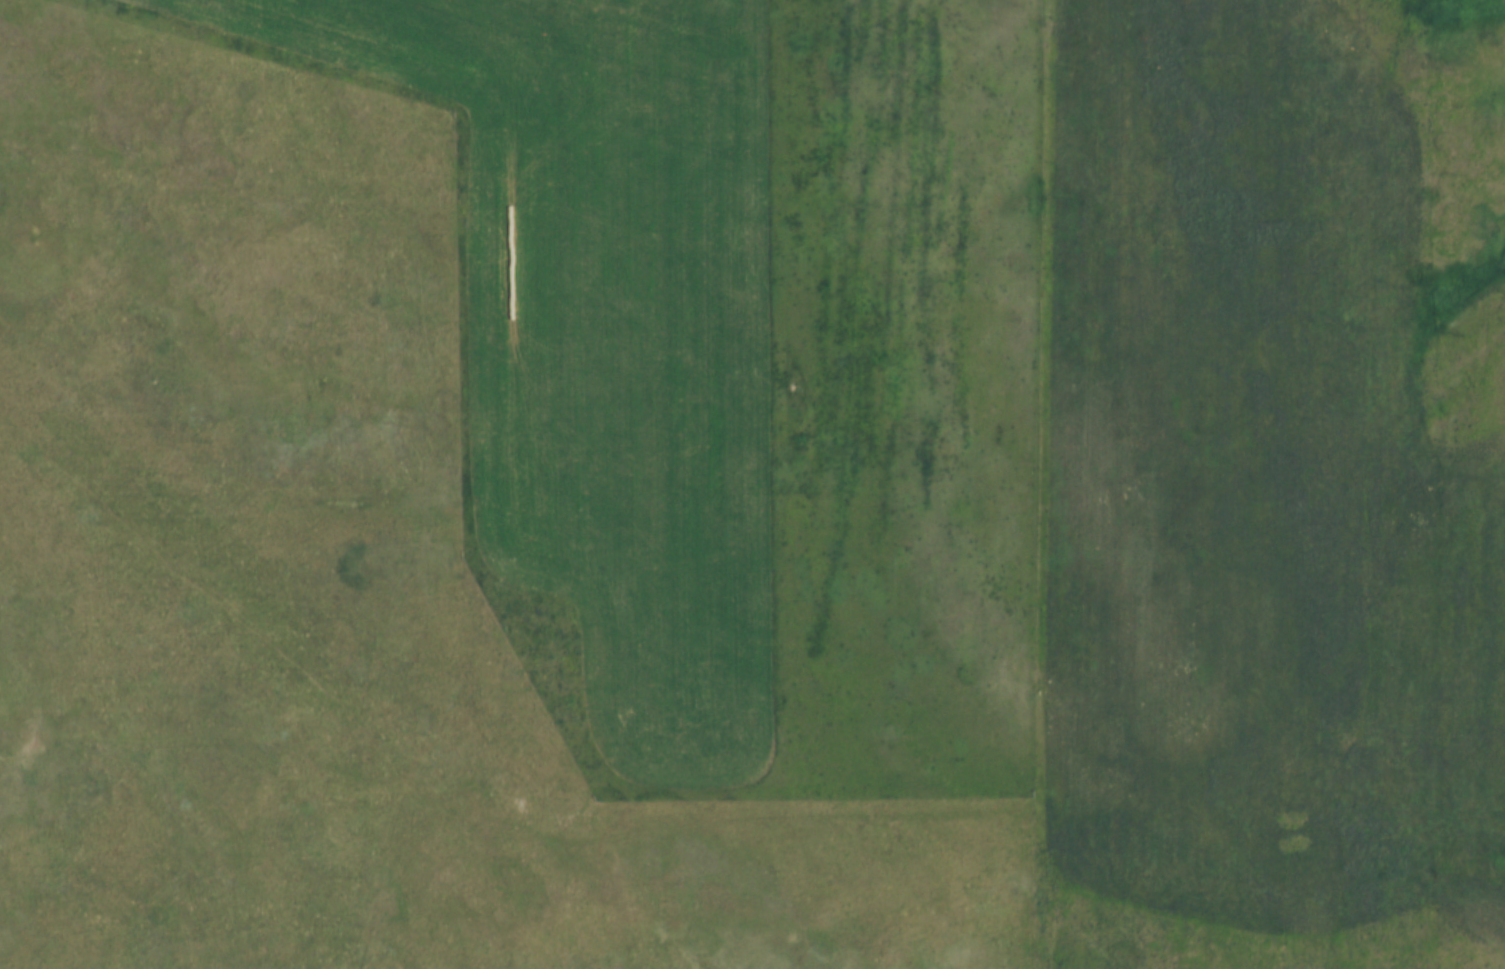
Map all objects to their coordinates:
building: (1433, 582)

